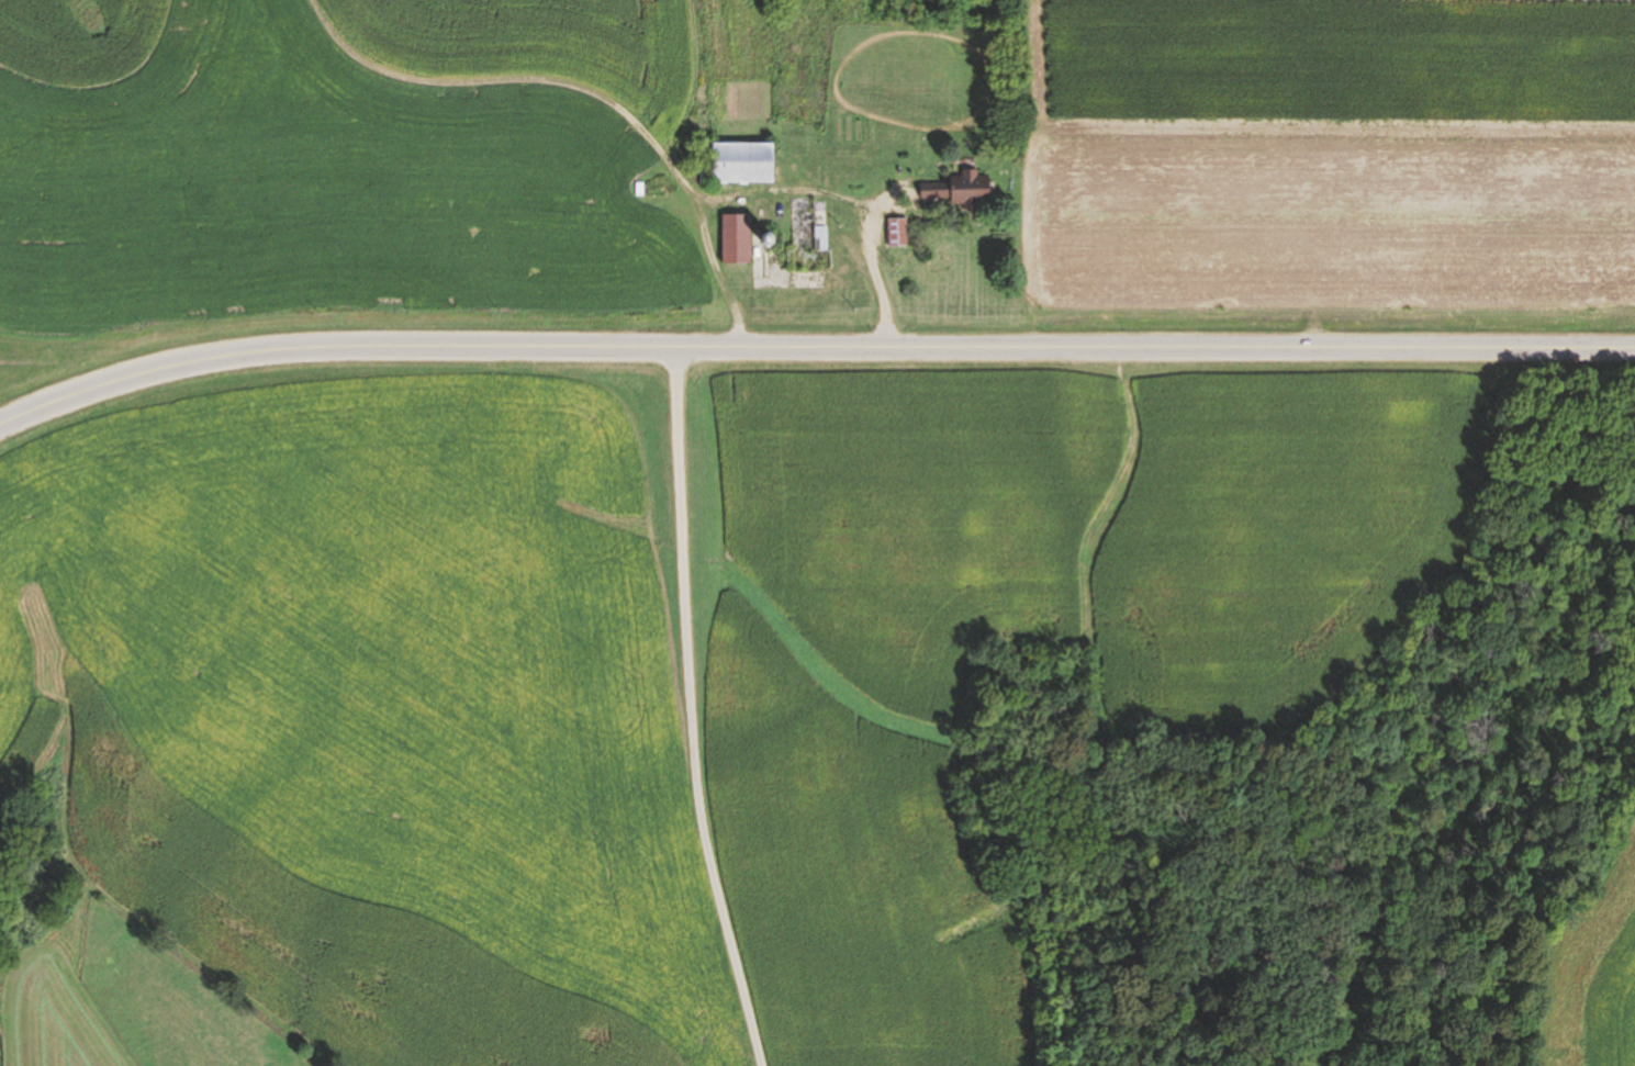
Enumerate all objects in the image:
building: (736, 161)
building: (959, 189)
building: (897, 232)
building: (737, 238)
road: (811, 351)
road: (706, 710)

